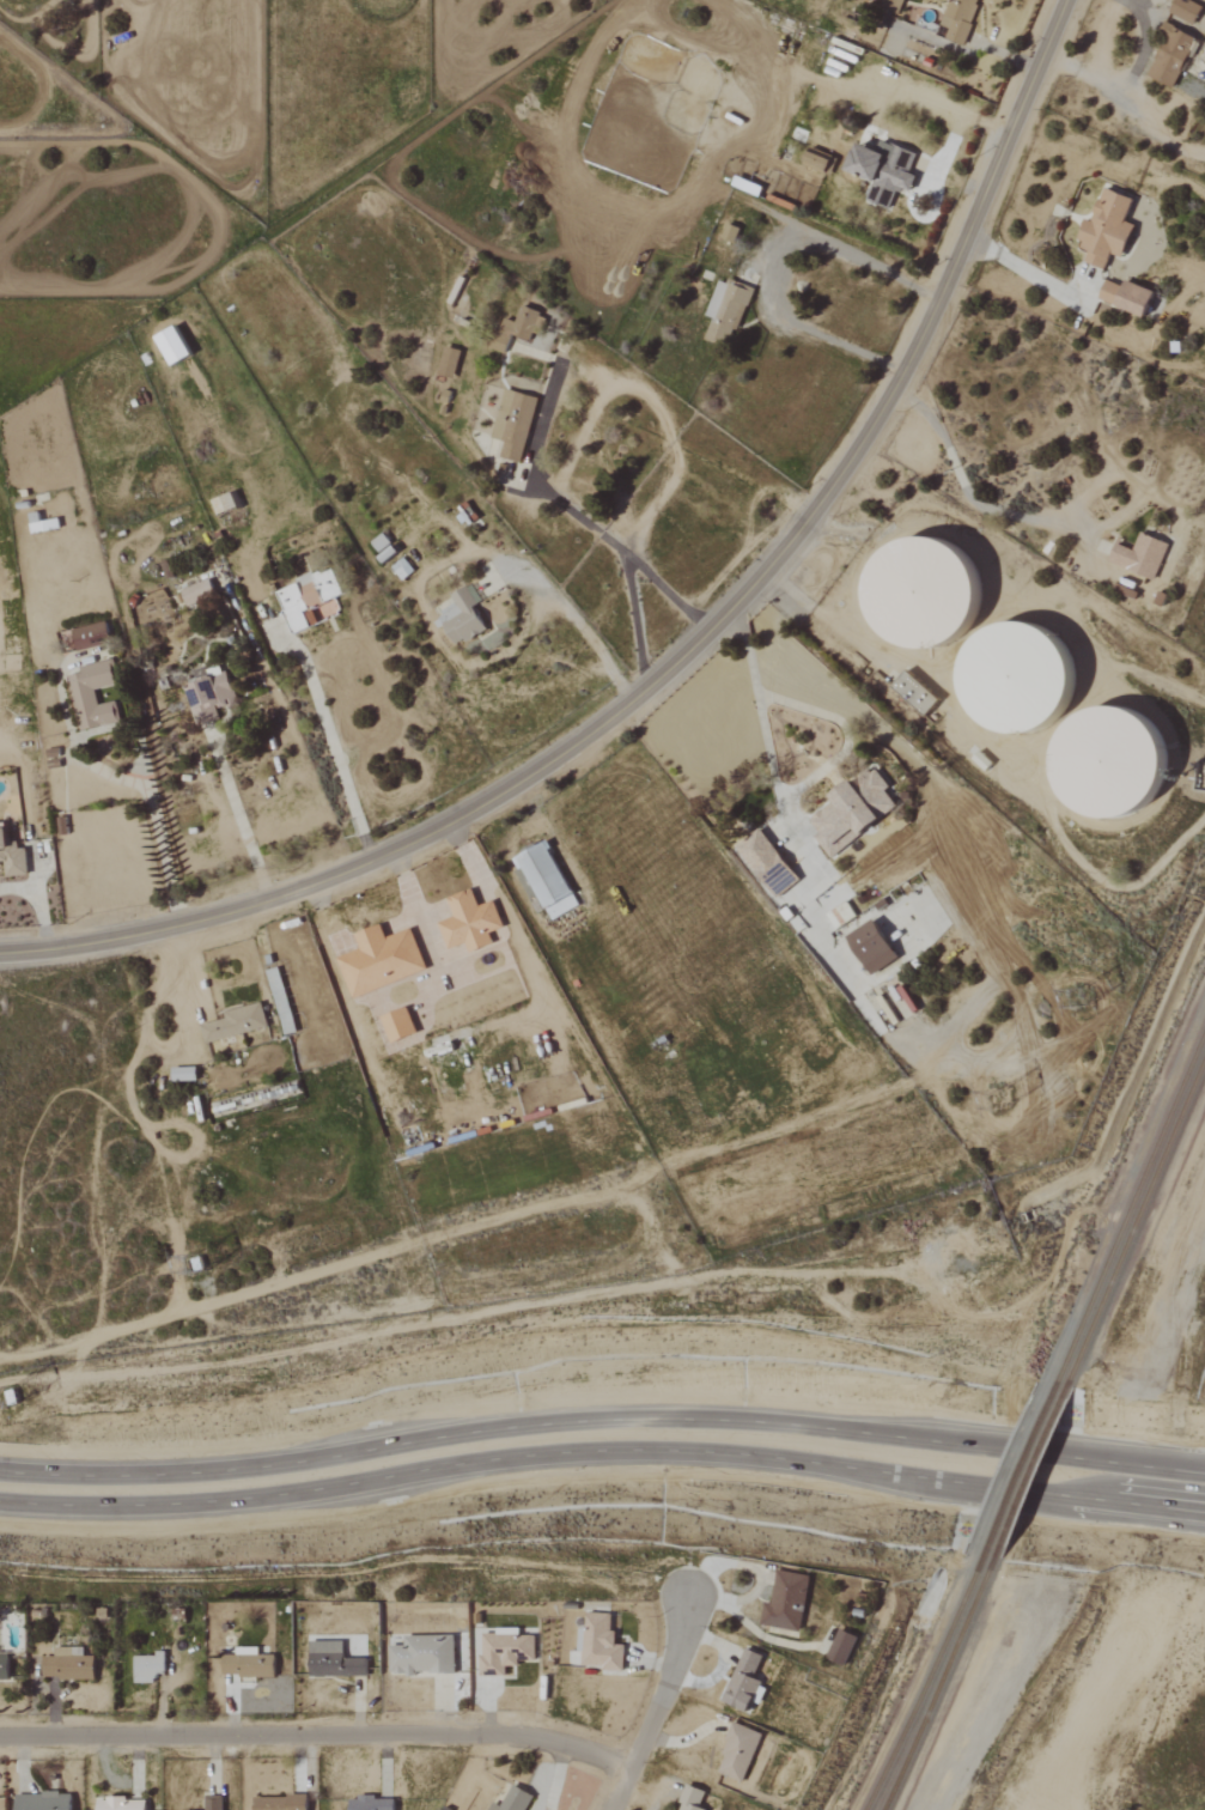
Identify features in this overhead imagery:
building: (893, 2)
building: (1185, 10)
building: (956, 19)
building: (1170, 54)
building: (815, 159)
building: (882, 169)
building: (1104, 229)
road: (773, 275)
building: (1125, 296)
building: (724, 311)
building: (528, 323)
building: (170, 345)
building: (512, 424)
road: (973, 496)
building: (223, 504)
road: (586, 516)
building: (1140, 555)
road: (670, 588)
building: (915, 590)
building: (195, 593)
building: (309, 600)
road: (549, 607)
building: (461, 615)
road: (640, 619)
building: (89, 636)
road: (683, 650)
building: (1012, 680)
building: (913, 693)
building: (91, 696)
building: (207, 696)
road: (341, 748)
building: (1107, 763)
road: (778, 789)
road: (243, 809)
building: (850, 814)
road: (159, 824)
building: (11, 857)
building: (766, 863)
building: (546, 881)
road: (42, 897)
building: (468, 922)
building: (870, 947)
building: (379, 960)
power tower: (1081, 992)
building: (235, 1024)
building: (396, 1025)
building: (182, 1074)
power tower: (1012, 1097)
railway: (1130, 1207)
railway: (1136, 1221)
power tower: (203, 1261)
power tower: (22, 1395)
road: (602, 1422)
road: (603, 1450)
railway: (1017, 1472)
railway: (1028, 1475)
building: (785, 1601)
building: (827, 1636)
building: (600, 1642)
building: (840, 1647)
building: (503, 1650)
building: (421, 1656)
building: (333, 1660)
building: (2, 1664)
building: (67, 1664)
building: (146, 1666)
building: (245, 1666)
building: (742, 1681)
railway: (924, 1686)
railway: (937, 1687)
road: (665, 1707)
road: (316, 1731)
building: (737, 1751)
building: (689, 1798)
building: (512, 1799)
building: (42, 1800)
building: (212, 1803)
building: (279, 1803)
building: (371, 1803)
building: (118, 1804)

